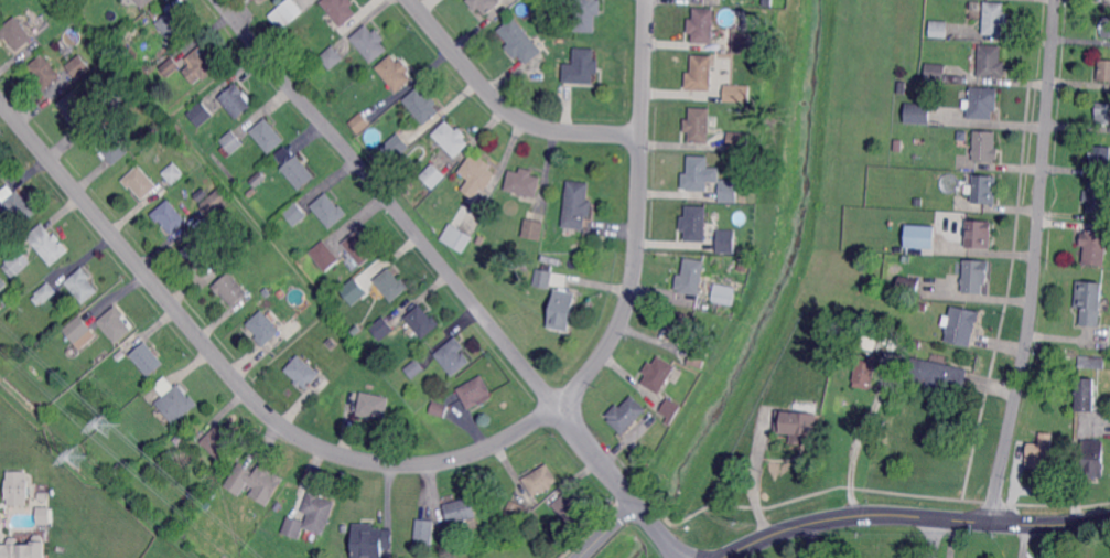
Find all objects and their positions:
building: (539, 1)
building: (144, 2)
building: (768, 2)
building: (557, 3)
building: (485, 4)
building: (341, 10)
building: (287, 12)
building: (588, 15)
building: (995, 18)
building: (703, 24)
building: (173, 25)
building: (1106, 26)
building: (939, 29)
building: (17, 32)
building: (111, 34)
building: (521, 41)
building: (370, 42)
building: (743, 42)
building: (118, 43)
building: (333, 57)
building: (991, 62)
building: (78, 65)
building: (200, 65)
building: (171, 66)
building: (583, 66)
building: (1104, 69)
building: (45, 72)
building: (936, 72)
building: (395, 73)
building: (701, 73)
building: (901, 87)
building: (737, 93)
building: (123, 94)
building: (236, 100)
building: (981, 103)
building: (422, 106)
building: (75, 107)
road: (506, 107)
building: (916, 112)
building: (1102, 112)
building: (201, 114)
building: (360, 121)
building: (701, 125)
building: (268, 136)
building: (452, 138)
building: (230, 142)
building: (741, 142)
building: (108, 143)
building: (983, 146)
building: (396, 149)
building: (1100, 157)
building: (174, 172)
building: (479, 172)
building: (299, 173)
building: (698, 173)
building: (434, 174)
building: (140, 181)
building: (525, 182)
building: (982, 189)
building: (730, 190)
building: (251, 191)
building: (202, 193)
building: (1098, 196)
building: (215, 203)
building: (579, 204)
building: (19, 207)
building: (330, 210)
building: (295, 213)
road: (639, 214)
building: (171, 215)
road: (408, 222)
building: (696, 224)
building: (534, 228)
building: (977, 234)
building: (2, 237)
building: (459, 237)
building: (919, 237)
building: (481, 238)
building: (728, 240)
building: (1095, 246)
building: (362, 247)
building: (51, 248)
building: (200, 251)
building: (325, 255)
building: (904, 258)
road: (1035, 261)
building: (18, 262)
building: (692, 276)
building: (973, 276)
building: (709, 277)
building: (543, 278)
building: (2, 285)
building: (84, 285)
building: (392, 285)
building: (908, 286)
building: (229, 289)
building: (353, 290)
building: (267, 292)
building: (45, 293)
building: (725, 293)
building: (282, 294)
building: (1090, 301)
building: (562, 310)
building: (273, 316)
building: (367, 320)
building: (725, 320)
building: (423, 321)
building: (115, 323)
building: (960, 325)
building: (679, 326)
building: (263, 328)
building: (382, 328)
building: (78, 329)
building: (121, 355)
building: (454, 356)
building: (821, 356)
building: (698, 357)
building: (148, 358)
building: (1092, 362)
building: (416, 367)
building: (865, 371)
building: (302, 373)
building: (658, 374)
building: (938, 375)
road: (235, 378)
building: (475, 390)
building: (1037, 393)
building: (1086, 395)
building: (172, 399)
building: (374, 405)
building: (440, 408)
building: (671, 409)
building: (627, 414)
power tower: (108, 422)
building: (9, 423)
building: (798, 425)
building: (660, 427)
road: (860, 434)
building: (217, 443)
building: (1039, 451)
power tower: (78, 455)
building: (1093, 458)
building: (223, 469)
building: (541, 479)
building: (255, 482)
building: (17, 489)
building: (43, 495)
road: (636, 503)
building: (570, 508)
building: (461, 511)
building: (317, 512)
building: (516, 513)
building: (535, 514)
road: (910, 514)
building: (46, 516)
building: (293, 527)
road: (608, 530)
building: (424, 532)
road: (934, 537)
building: (370, 540)
road: (810, 540)
road: (1023, 540)
building: (24, 548)

